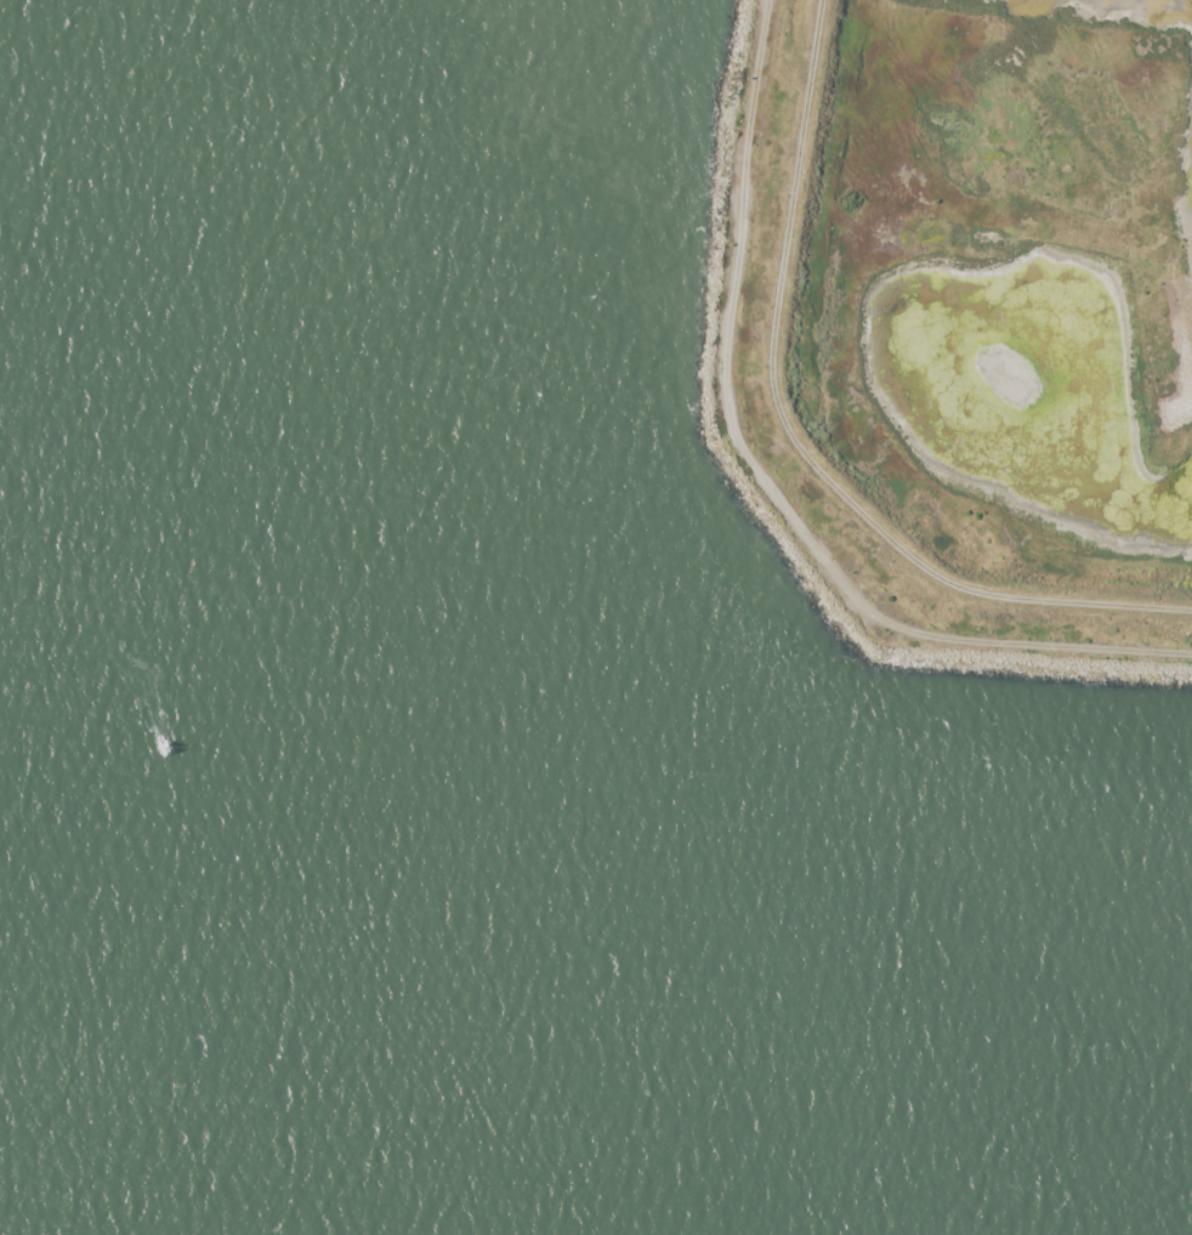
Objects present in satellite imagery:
road: (797, 442)

